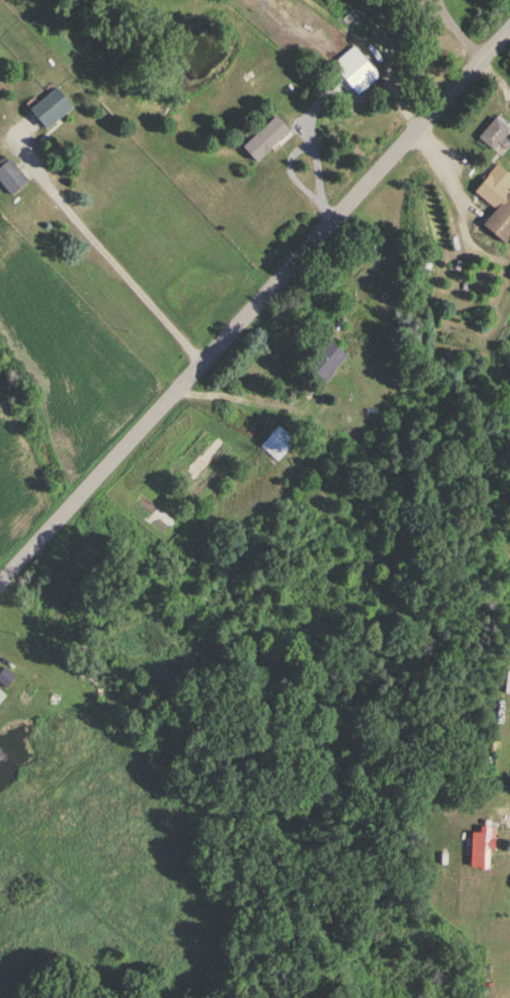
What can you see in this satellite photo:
road: (455, 31)
building: (356, 77)
building: (53, 109)
building: (267, 140)
building: (11, 177)
building: (498, 202)
road: (115, 248)
road: (255, 307)
building: (328, 361)
road: (231, 395)
building: (278, 444)
building: (6, 679)
building: (2, 697)
road: (504, 816)
building: (483, 849)

